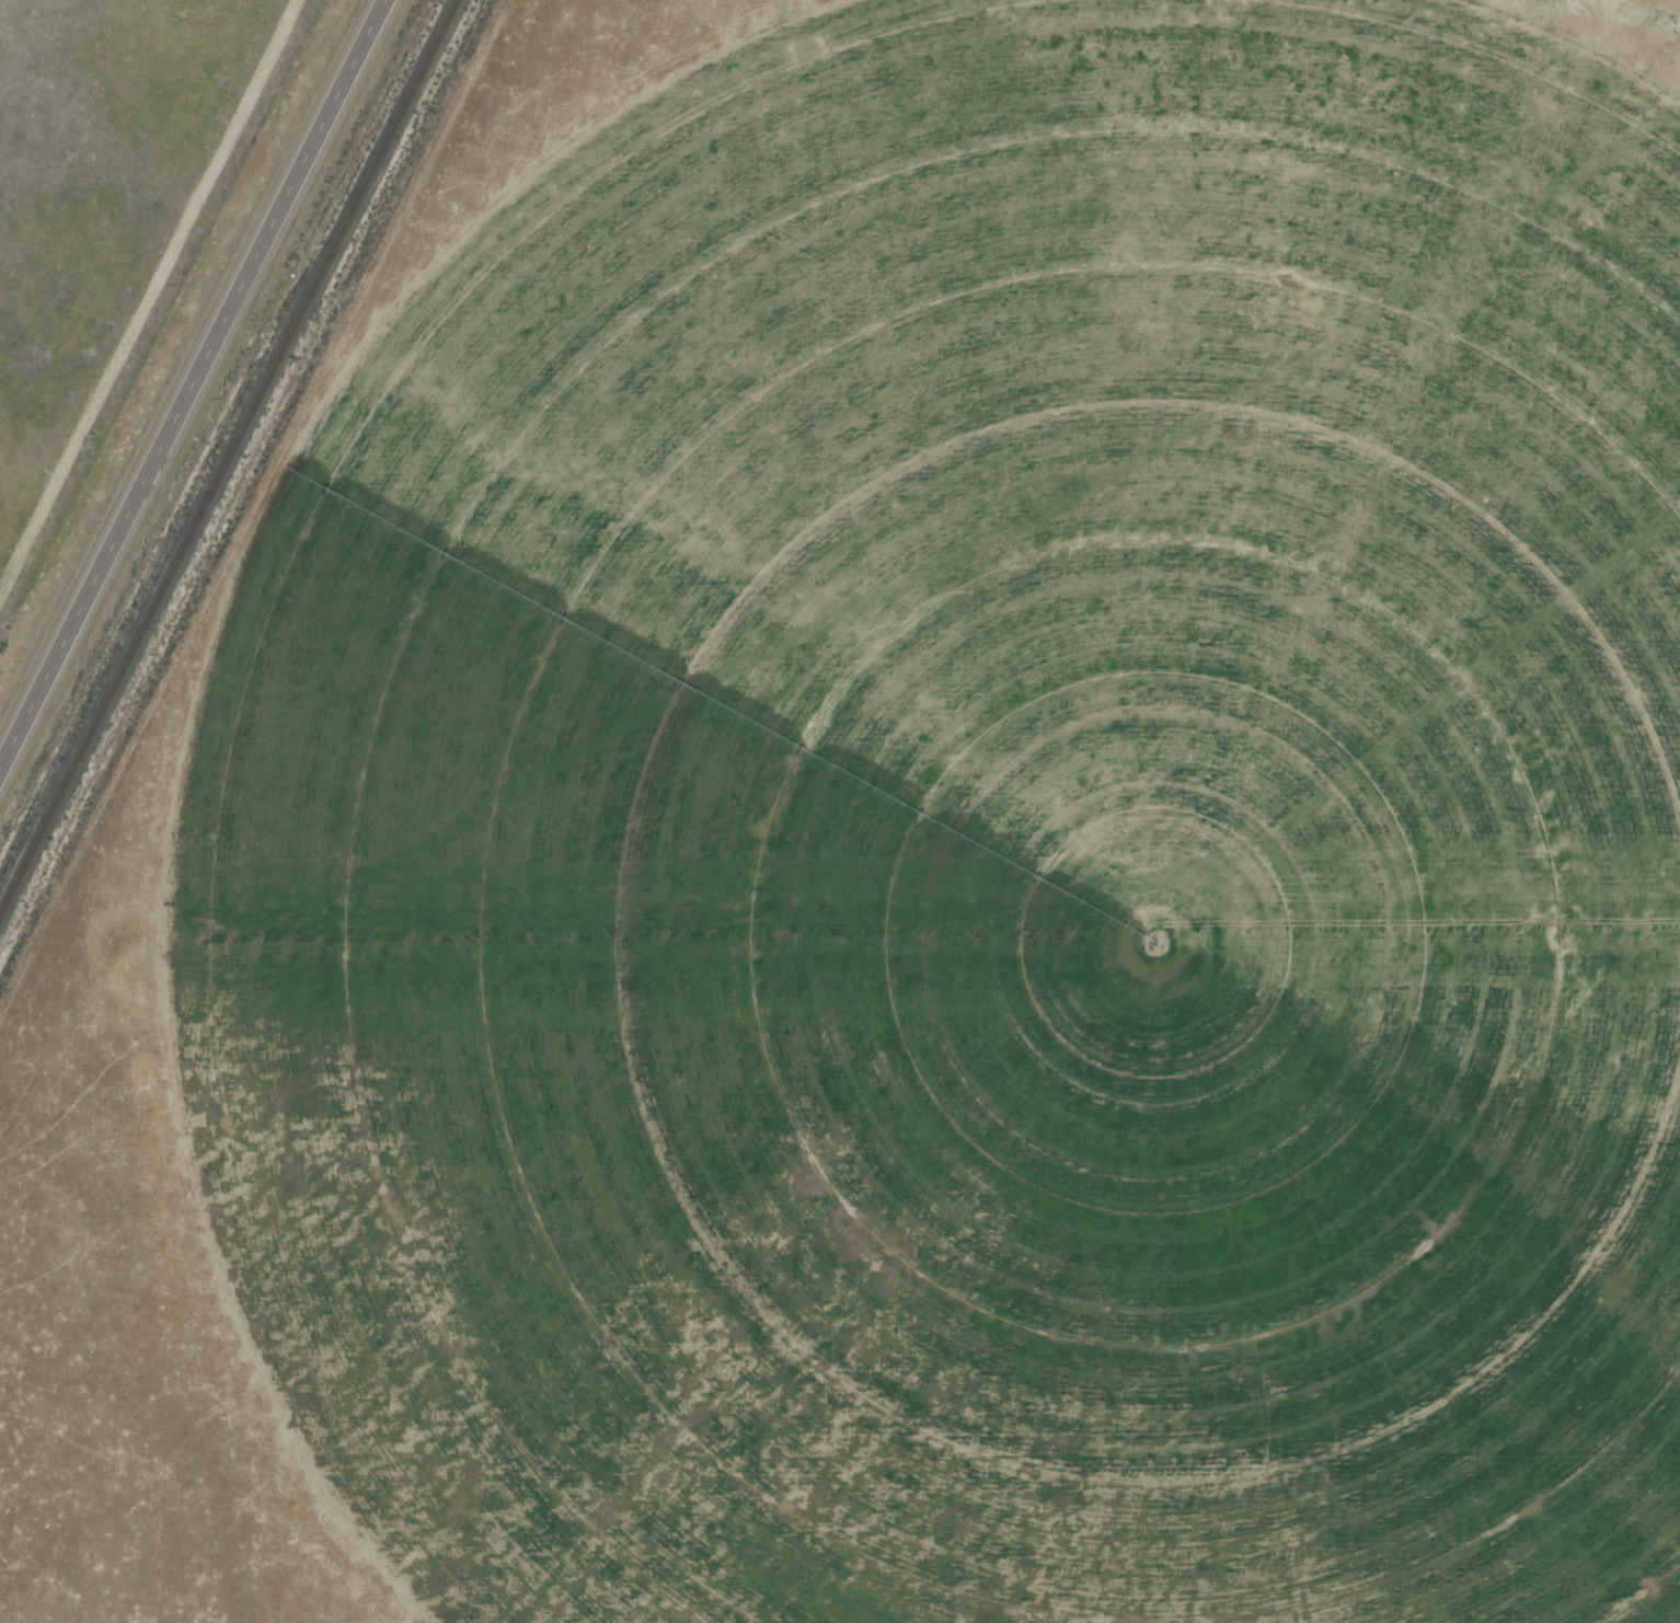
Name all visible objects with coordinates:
road: (192, 379)
railway: (228, 456)

